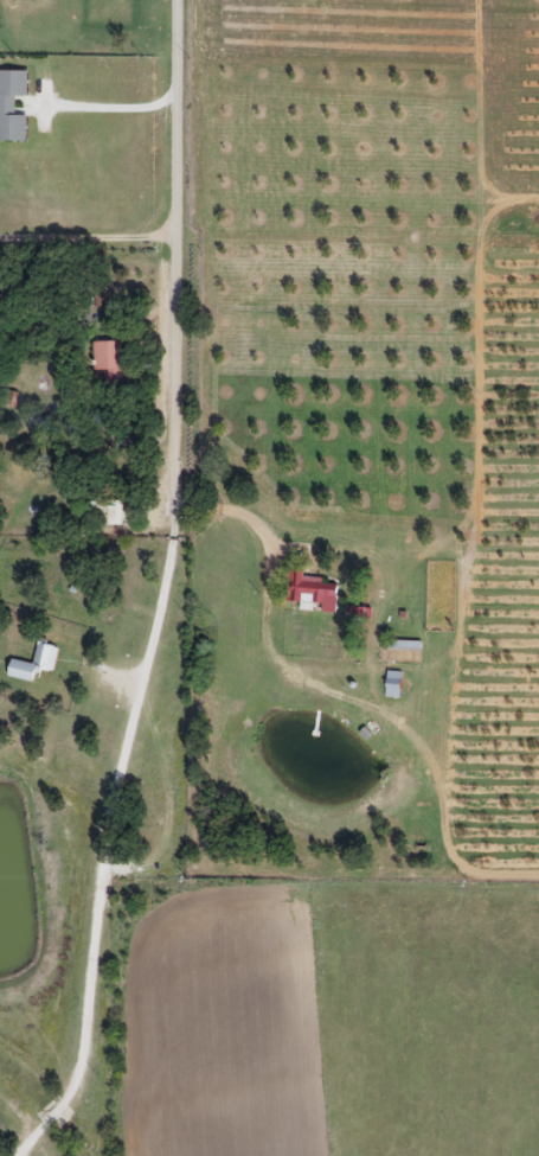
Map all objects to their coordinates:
building: (12, 104)
building: (109, 364)
building: (104, 511)
road: (155, 590)
building: (309, 590)
building: (399, 650)
building: (32, 663)
building: (392, 683)

